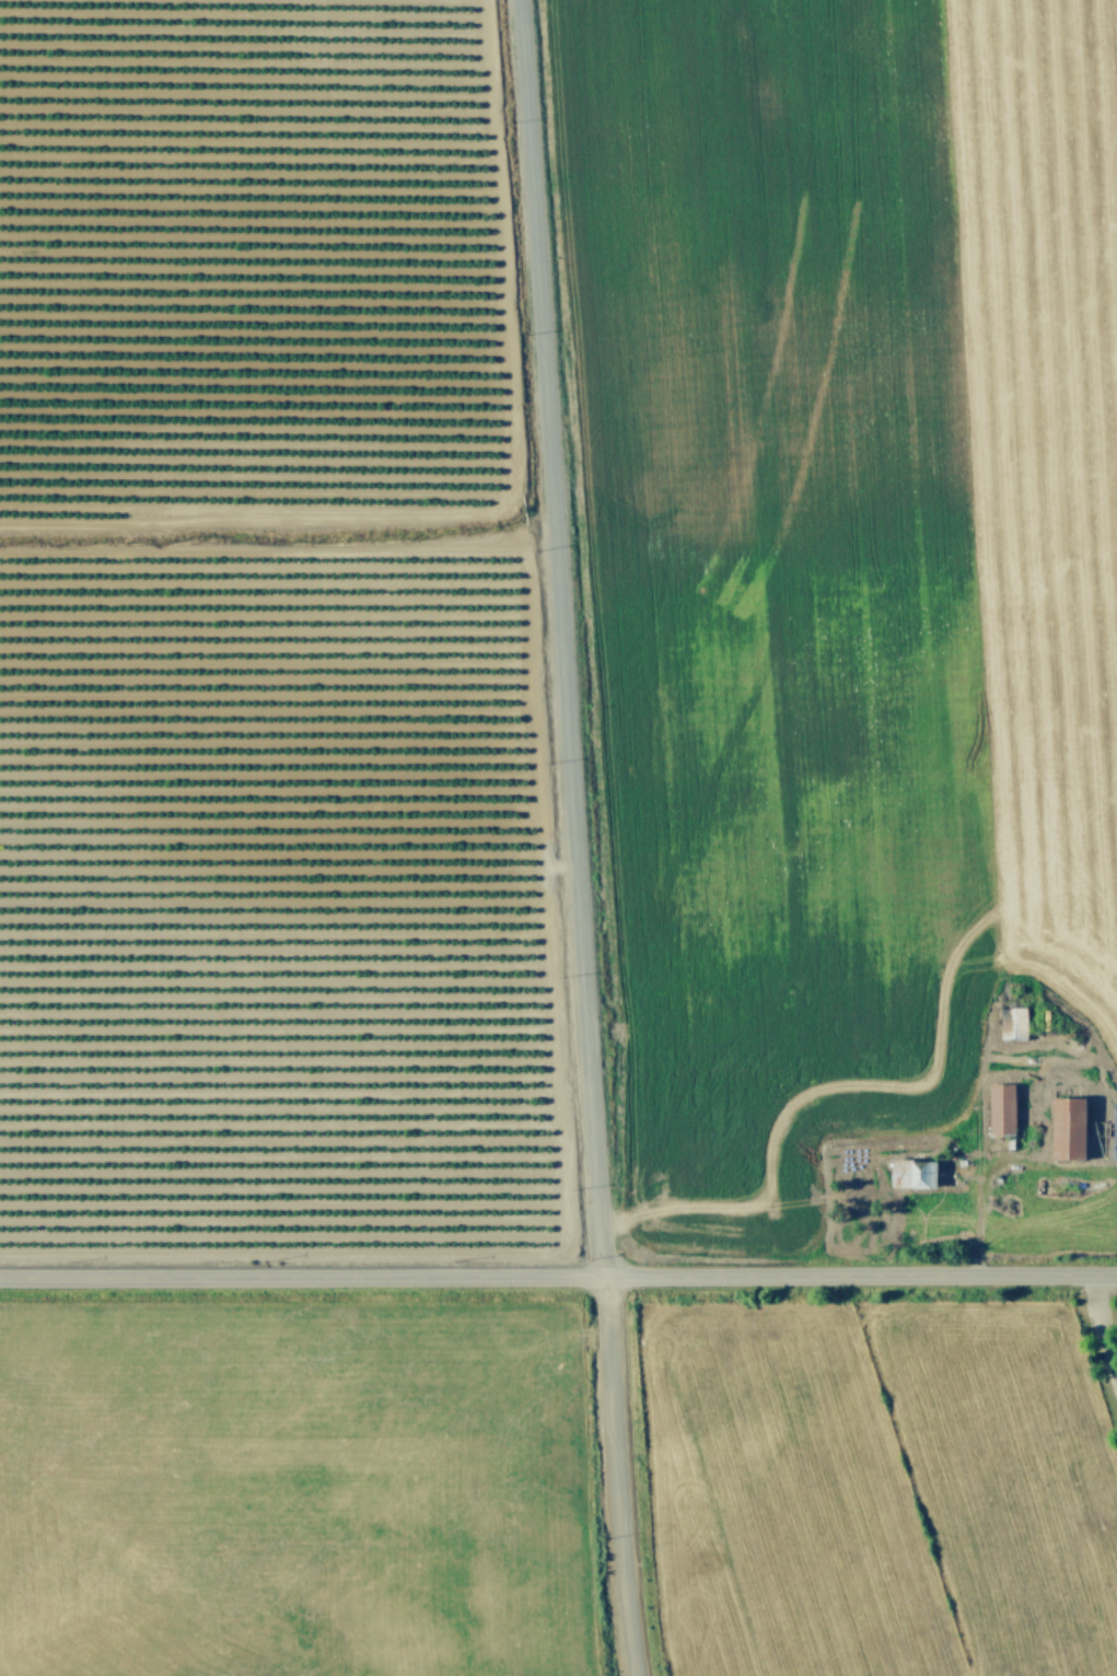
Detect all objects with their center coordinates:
crop: (558, 838)
road: (573, 838)
building: (1011, 1021)
building: (999, 1107)
building: (1066, 1126)
building: (910, 1172)
road: (558, 1273)
road: (1102, 1323)

